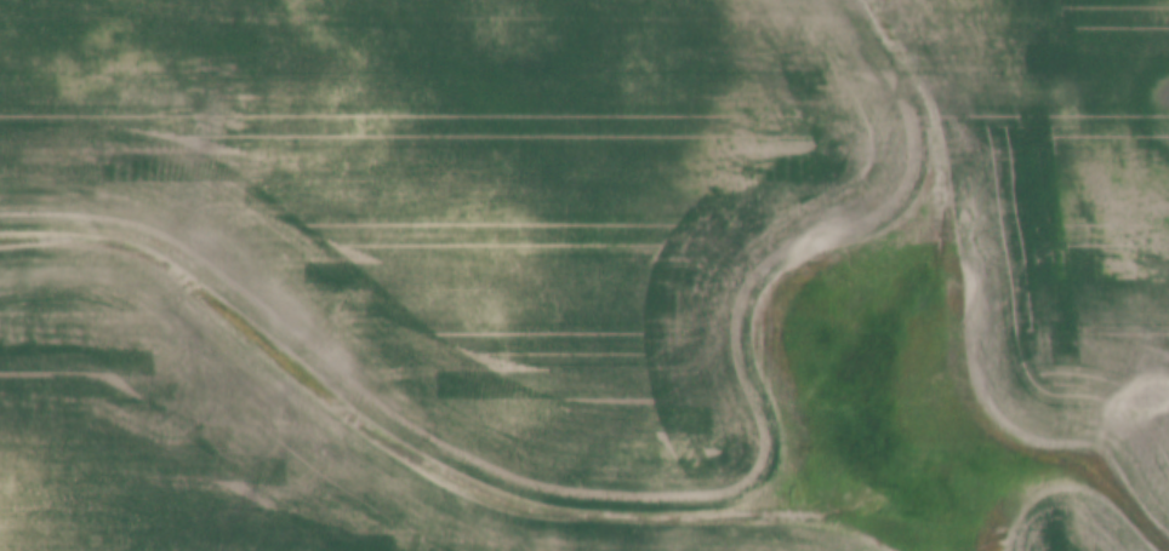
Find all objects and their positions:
road: (1056, 275)

